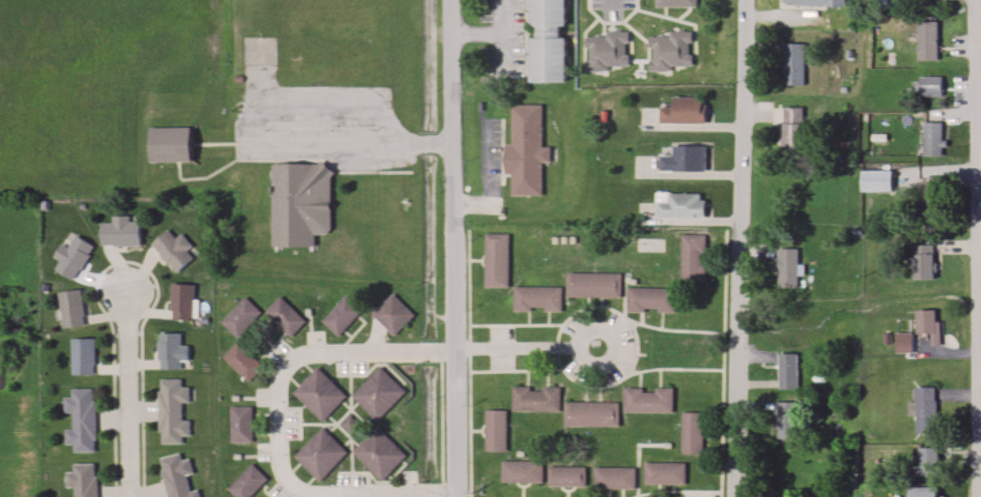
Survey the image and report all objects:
building: (675, 3)
building: (813, 3)
road: (485, 30)
building: (545, 41)
building: (927, 41)
building: (607, 51)
building: (670, 51)
building: (792, 65)
building: (930, 88)
building: (683, 111)
building: (789, 130)
building: (934, 139)
road: (350, 143)
building: (169, 145)
building: (525, 150)
road: (980, 157)
building: (684, 159)
road: (979, 165)
building: (875, 181)
building: (932, 198)
building: (300, 204)
building: (681, 206)
building: (121, 232)
building: (650, 245)
road: (456, 248)
road: (740, 248)
building: (174, 250)
building: (73, 257)
building: (692, 258)
building: (496, 260)
building: (923, 263)
building: (786, 269)
building: (594, 286)
building: (537, 299)
building: (650, 301)
building: (182, 302)
building: (72, 309)
building: (393, 314)
building: (285, 315)
building: (341, 315)
building: (241, 316)
building: (928, 324)
road: (531, 342)
building: (904, 347)
building: (171, 351)
building: (83, 356)
building: (242, 361)
building: (787, 371)
building: (378, 393)
road: (128, 394)
building: (320, 394)
building: (535, 399)
building: (648, 400)
building: (172, 411)
building: (925, 411)
building: (591, 414)
building: (81, 420)
building: (785, 420)
road: (281, 423)
building: (349, 423)
building: (240, 424)
building: (495, 430)
building: (692, 433)
building: (379, 453)
building: (320, 454)
building: (927, 462)
building: (521, 472)
building: (664, 473)
building: (177, 476)
building: (566, 476)
road: (980, 477)
building: (82, 479)
building: (614, 479)
building: (246, 482)
building: (925, 492)

